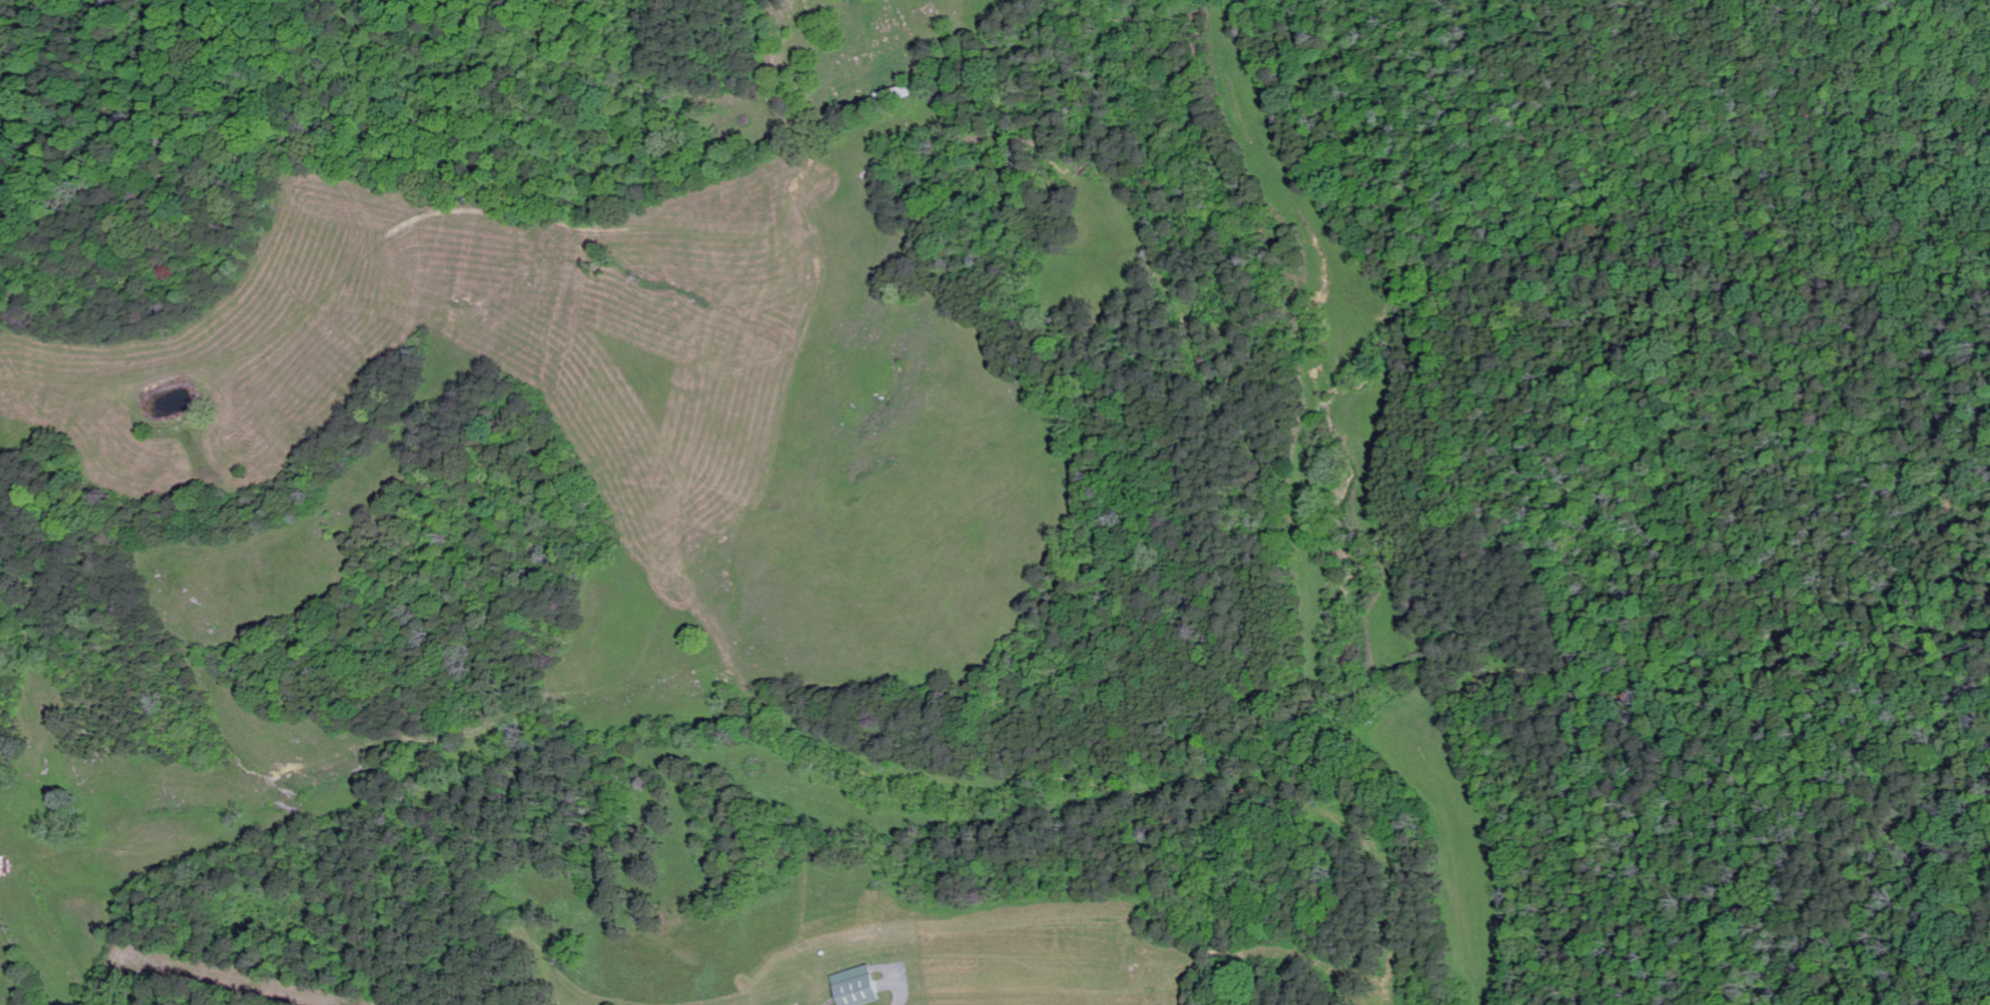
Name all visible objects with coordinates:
building: (857, 986)

